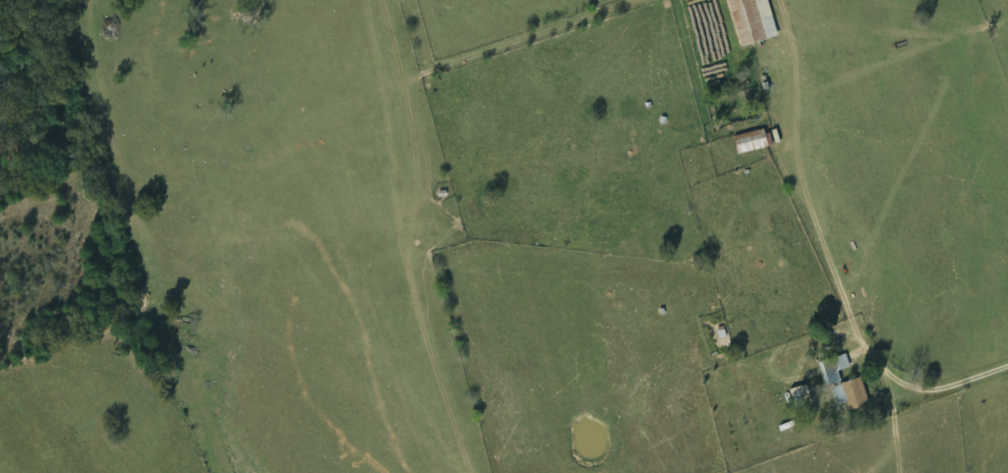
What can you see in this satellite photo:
building: (754, 21)
road: (840, 292)
building: (844, 382)

